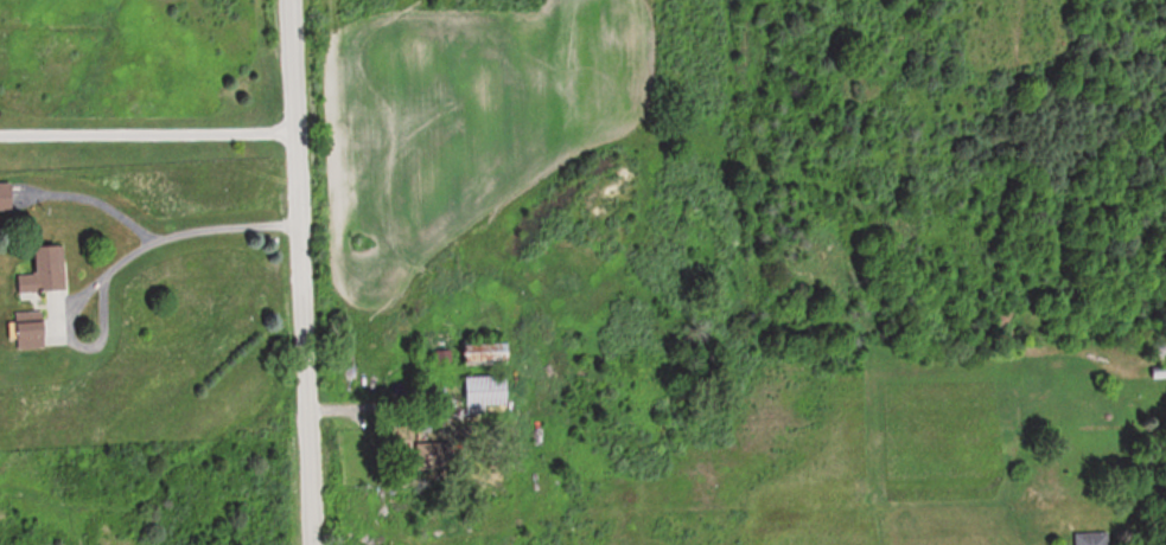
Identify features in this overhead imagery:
road: (146, 130)
building: (5, 197)
road: (172, 230)
building: (45, 270)
road: (298, 272)
building: (37, 332)
building: (486, 351)
building: (441, 358)
building: (488, 390)
building: (435, 455)
building: (1090, 538)

